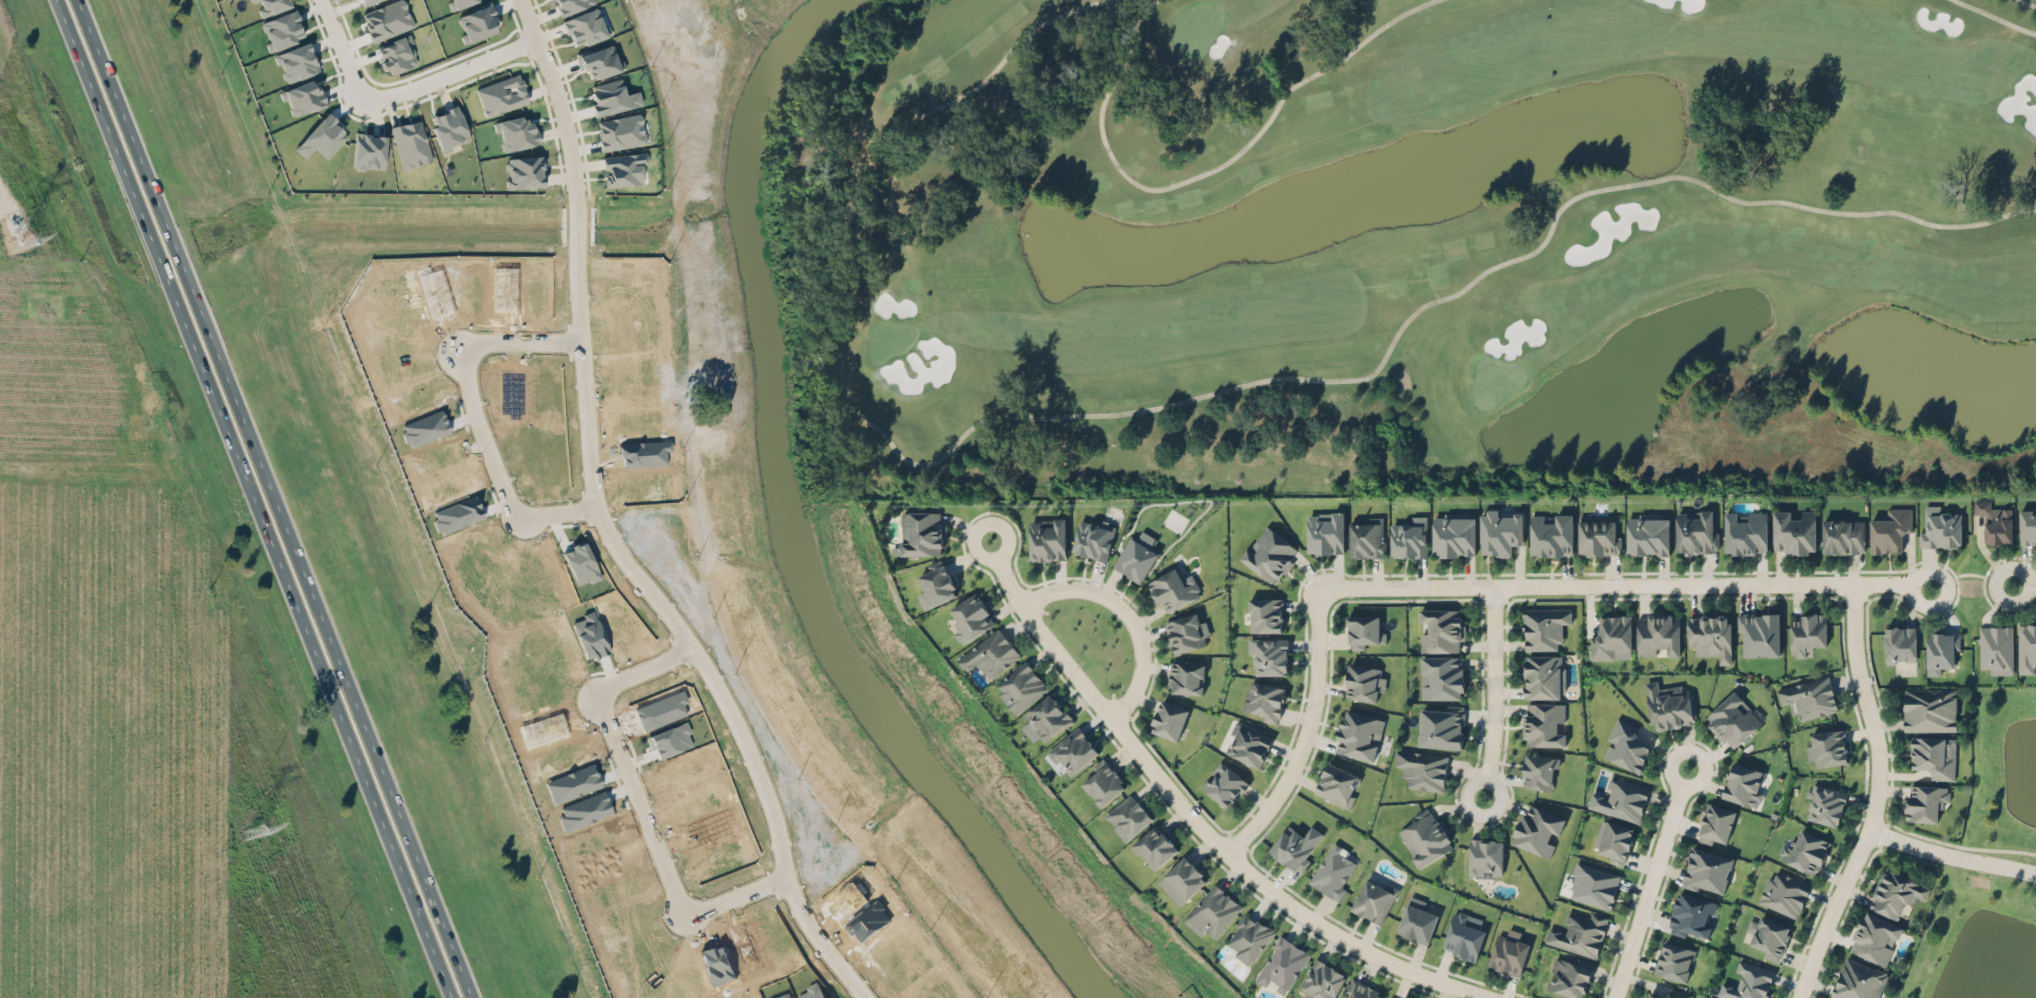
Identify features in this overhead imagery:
building: (366, 1)
building: (460, 2)
building: (271, 5)
building: (570, 5)
building: (386, 19)
building: (584, 27)
building: (282, 29)
building: (396, 54)
building: (599, 61)
building: (296, 62)
crop: (10, 74)
road: (402, 91)
building: (501, 95)
building: (301, 96)
building: (448, 128)
building: (620, 131)
building: (411, 143)
building: (368, 151)
building: (623, 168)
building: (523, 171)
power tower: (18, 240)
park: (1416, 248)
road: (479, 417)
road: (257, 499)
road: (277, 499)
building: (1993, 522)
building: (2027, 527)
road: (606, 529)
building: (1940, 529)
river: (793, 530)
building: (1500, 530)
building: (1889, 530)
building: (1696, 531)
building: (1745, 532)
building: (1793, 532)
building: (921, 533)
building: (1325, 533)
building: (1453, 534)
building: (1551, 534)
building: (1647, 534)
building: (1842, 535)
building: (1367, 536)
building: (1598, 536)
building: (1093, 538)
building: (1409, 538)
building: (1048, 539)
road: (973, 542)
building: (1269, 554)
building: (1135, 558)
road: (1969, 572)
road: (2023, 582)
building: (937, 583)
road: (1623, 586)
building: (1173, 589)
building: (1265, 614)
road: (1122, 616)
building: (971, 617)
building: (1544, 627)
building: (1440, 629)
building: (1363, 630)
building: (1806, 631)
building: (1186, 632)
building: (1759, 633)
building: (1657, 634)
building: (1711, 635)
building: (1611, 637)
building: (1899, 644)
building: (1995, 646)
building: (2026, 648)
building: (1940, 649)
building: (989, 654)
building: (1269, 654)
building: (1542, 676)
building: (1186, 677)
building: (1442, 677)
building: (1364, 682)
building: (1020, 686)
road: (1493, 693)
building: (1809, 697)
building: (1264, 700)
crop: (138, 704)
building: (1669, 706)
building: (1929, 709)
building: (1047, 716)
building: (1169, 719)
building: (1732, 720)
building: (1542, 723)
building: (1441, 727)
road: (1305, 732)
building: (1359, 734)
building: (1248, 743)
building: (1625, 746)
building: (1828, 747)
building: (1074, 750)
building: (1934, 755)
building: (1422, 769)
building: (1539, 771)
building: (1102, 782)
building: (1224, 784)
building: (1337, 784)
building: (1744, 784)
road: (1872, 797)
building: (1620, 800)
building: (1924, 802)
road: (637, 804)
building: (1825, 804)
building: (1128, 817)
building: (1715, 824)
road: (1201, 827)
building: (1537, 829)
power tower: (250, 831)
building: (1425, 837)
building: (1615, 842)
building: (1154, 846)
building: (1295, 846)
building: (1804, 851)
road: (1951, 855)
building: (1485, 857)
building: (1334, 870)
building: (1706, 870)
building: (1186, 876)
road: (1649, 884)
building: (1593, 885)
building: (1784, 893)
building: (1896, 893)
building: (1374, 899)
building: (1214, 910)
building: (1691, 915)
building: (1416, 920)
building: (1578, 933)
building: (1462, 936)
building: (1250, 937)
building: (1874, 937)
building: (1769, 938)
building: (1508, 954)
building: (1674, 960)
building: (1282, 964)
road: (955, 966)
building: (1569, 976)
building: (1321, 980)
building: (1857, 980)
building: (1748, 982)
building: (1361, 990)
building: (1670, 994)
building: (1391, 997)

